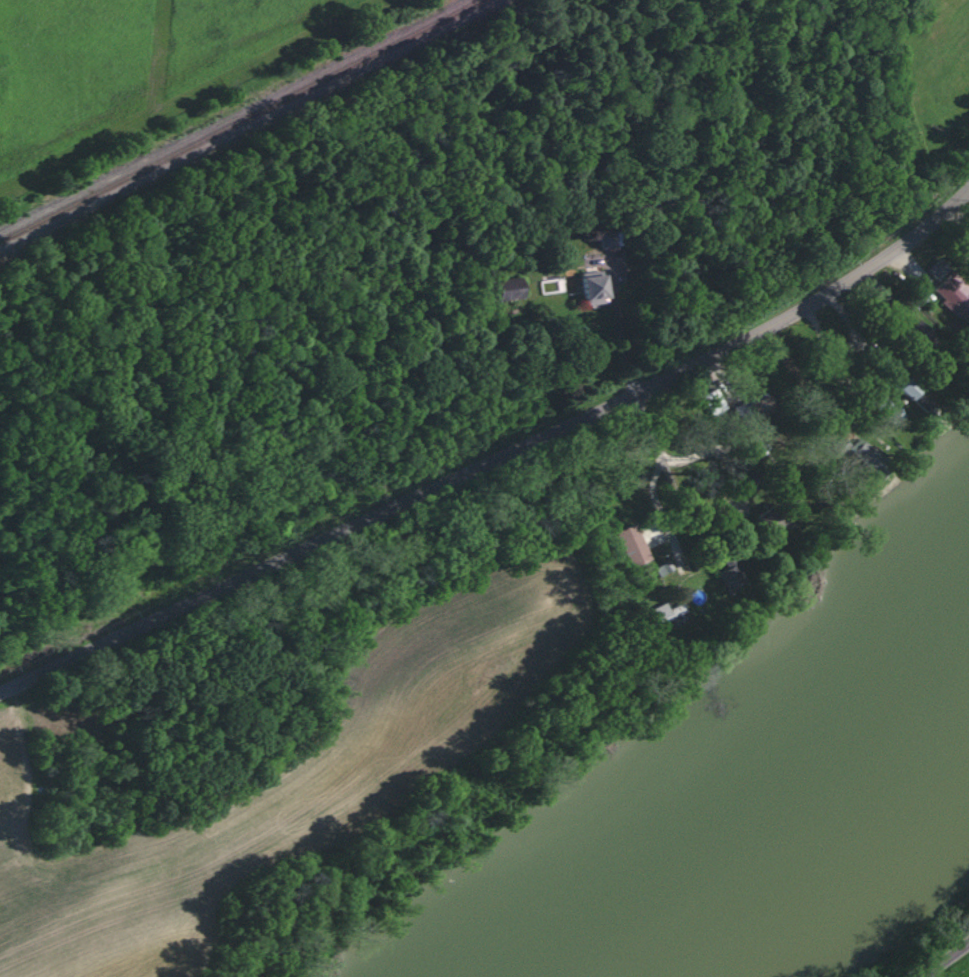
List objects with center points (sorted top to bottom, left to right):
railway: (220, 104)
building: (606, 240)
building: (936, 269)
building: (589, 286)
building: (506, 288)
building: (952, 299)
road: (621, 322)
building: (907, 388)
building: (885, 409)
building: (757, 410)
road: (493, 443)
building: (862, 451)
road: (716, 452)
road: (658, 470)
building: (768, 518)
building: (630, 544)
building: (662, 567)
building: (730, 573)
building: (665, 613)
river: (790, 802)
road: (942, 957)

